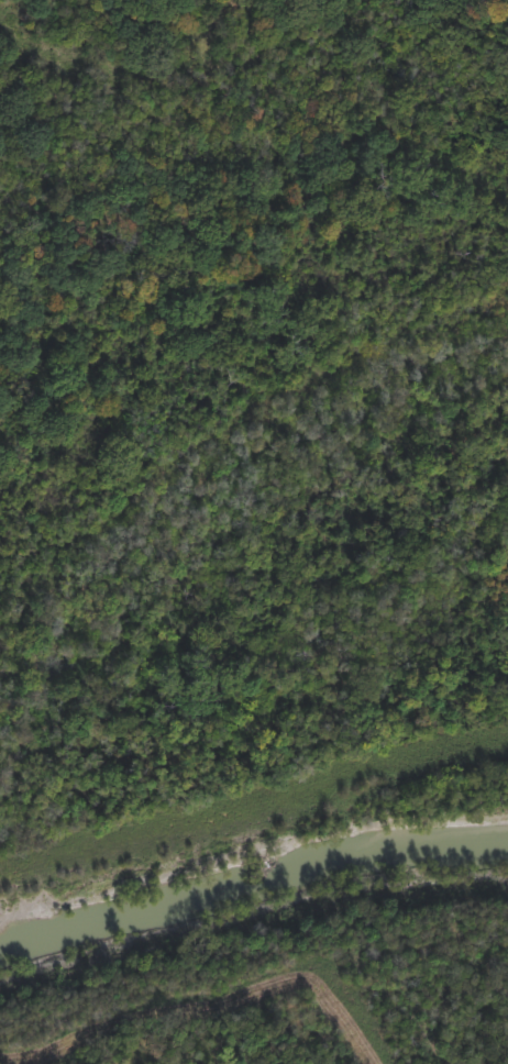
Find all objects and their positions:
river: (253, 887)

